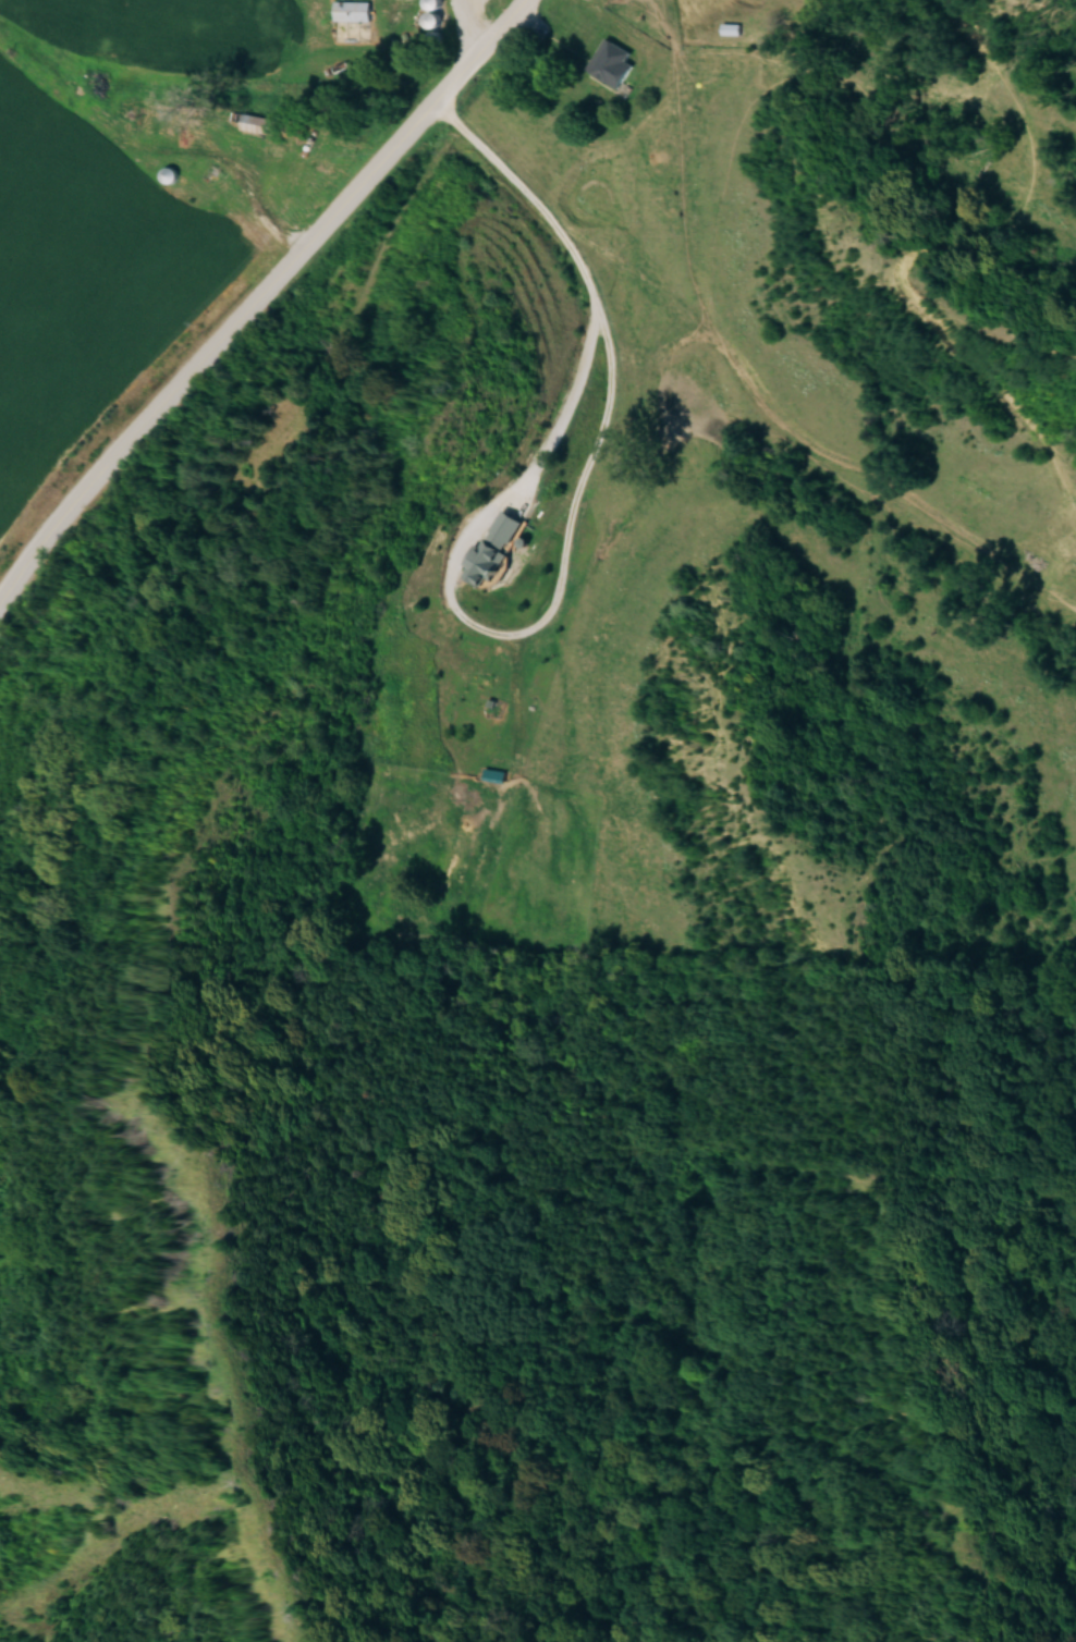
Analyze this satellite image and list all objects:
building: (353, 9)
building: (731, 27)
building: (611, 62)
building: (169, 174)
road: (257, 294)
building: (493, 547)

